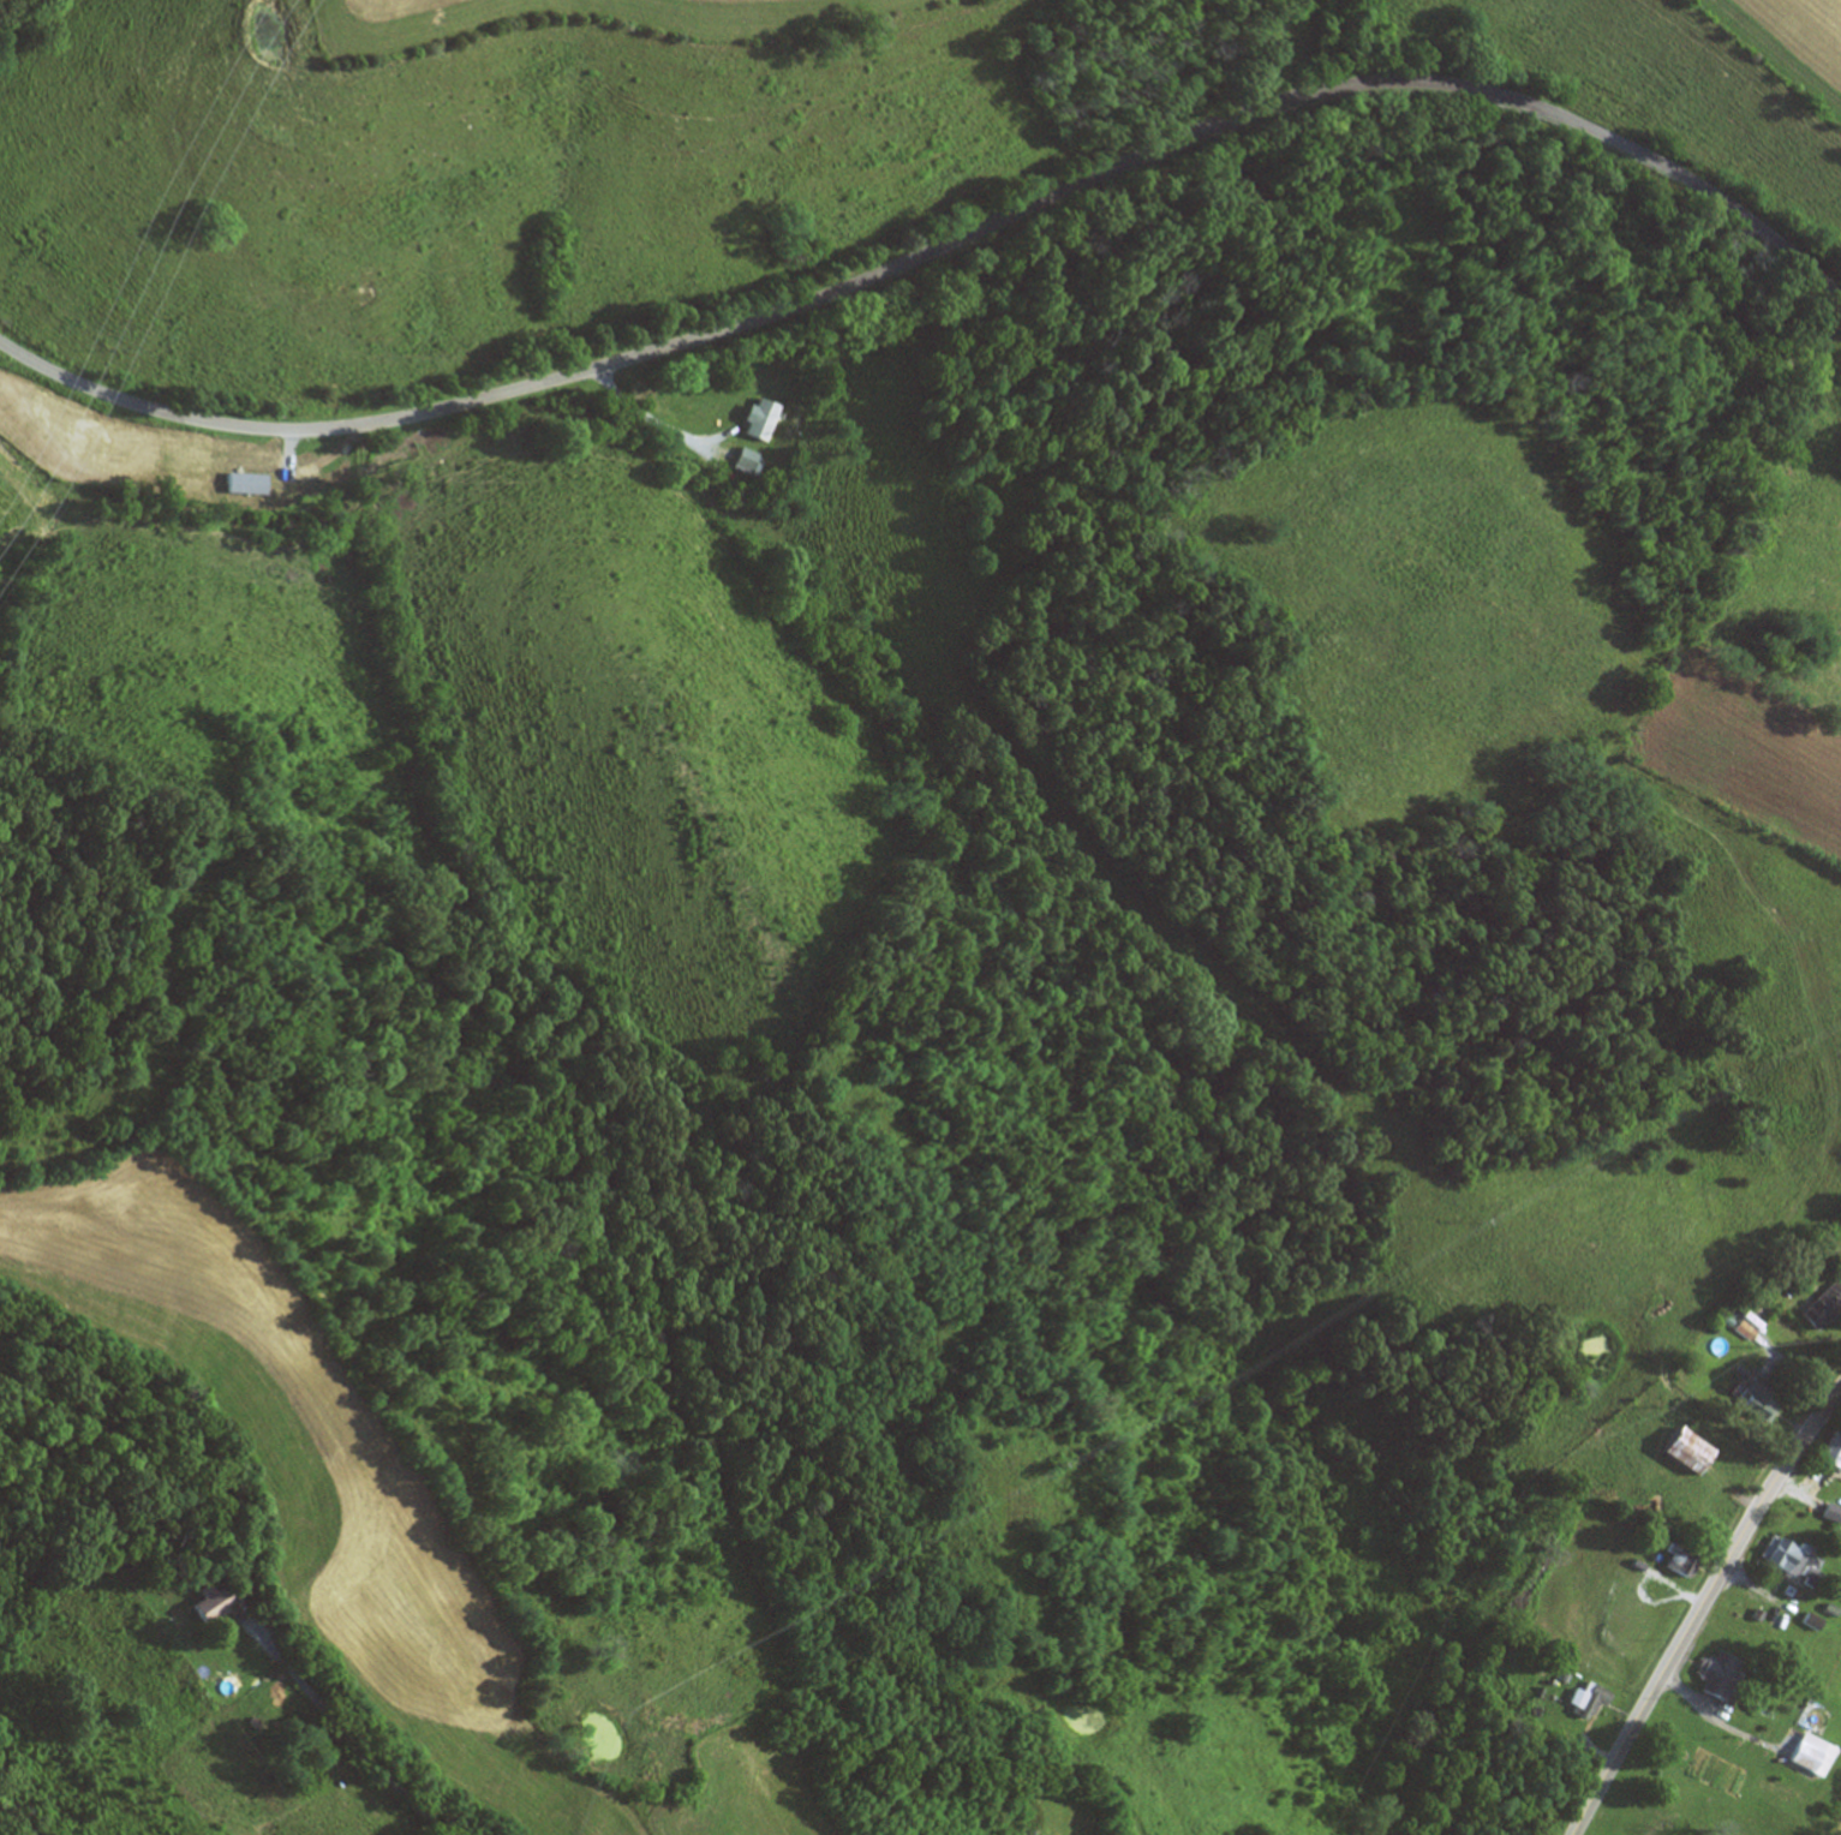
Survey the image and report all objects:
road: (944, 249)
building: (769, 420)
building: (752, 460)
building: (1824, 1307)
building: (1758, 1400)
building: (1688, 1452)
building: (1836, 1459)
building: (1833, 1513)
building: (1787, 1558)
building: (1680, 1561)
building: (1625, 1597)
building: (214, 1603)
road: (1698, 1606)
building: (1721, 1676)
building: (1592, 1700)
building: (1816, 1756)

